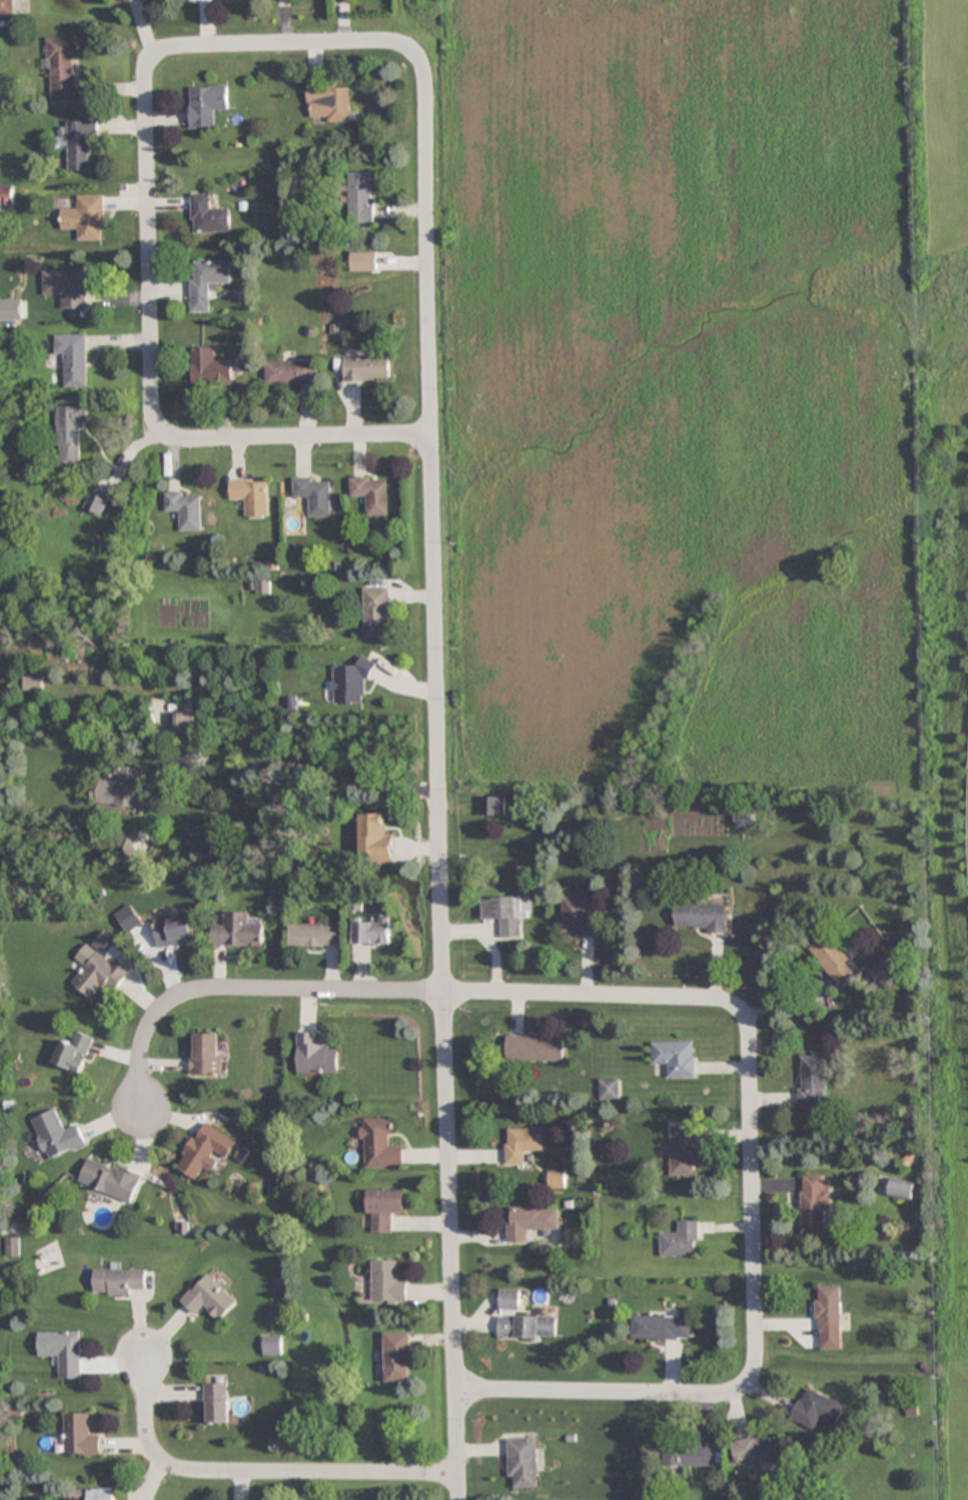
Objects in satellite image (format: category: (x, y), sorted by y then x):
building: (127, 0)
building: (7, 7)
road: (268, 45)
building: (63, 68)
building: (327, 103)
building: (205, 105)
building: (78, 142)
building: (359, 199)
building: (206, 215)
building: (84, 217)
road: (149, 258)
building: (362, 262)
building: (205, 282)
building: (65, 288)
building: (10, 311)
building: (72, 358)
building: (209, 368)
building: (366, 368)
building: (289, 373)
crop: (713, 428)
building: (69, 433)
road: (296, 435)
building: (315, 495)
building: (372, 495)
building: (252, 497)
building: (95, 503)
building: (186, 509)
building: (377, 612)
building: (33, 684)
building: (351, 684)
building: (178, 725)
road: (437, 774)
building: (120, 789)
building: (492, 806)
building: (744, 819)
building: (375, 839)
building: (506, 915)
building: (701, 917)
building: (578, 919)
building: (373, 930)
building: (174, 931)
building: (238, 931)
building: (315, 936)
building: (835, 959)
building: (98, 972)
building: (881, 973)
road: (242, 990)
road: (590, 996)
building: (535, 1048)
building: (73, 1052)
building: (206, 1054)
building: (317, 1055)
building: (676, 1058)
building: (813, 1081)
building: (611, 1089)
building: (55, 1134)
building: (523, 1144)
building: (381, 1145)
building: (206, 1150)
building: (685, 1152)
building: (557, 1179)
building: (109, 1181)
building: (901, 1190)
road: (753, 1196)
building: (815, 1205)
building: (385, 1209)
building: (531, 1222)
building: (682, 1240)
building: (12, 1247)
building: (120, 1281)
building: (389, 1282)
building: (210, 1298)
building: (510, 1299)
building: (829, 1310)
building: (528, 1327)
building: (662, 1328)
building: (272, 1345)
building: (62, 1351)
building: (398, 1356)
road: (601, 1392)
building: (217, 1403)
building: (817, 1409)
building: (79, 1436)
building: (759, 1453)
building: (690, 1455)
building: (524, 1464)
road: (255, 1474)
building: (93, 1494)

